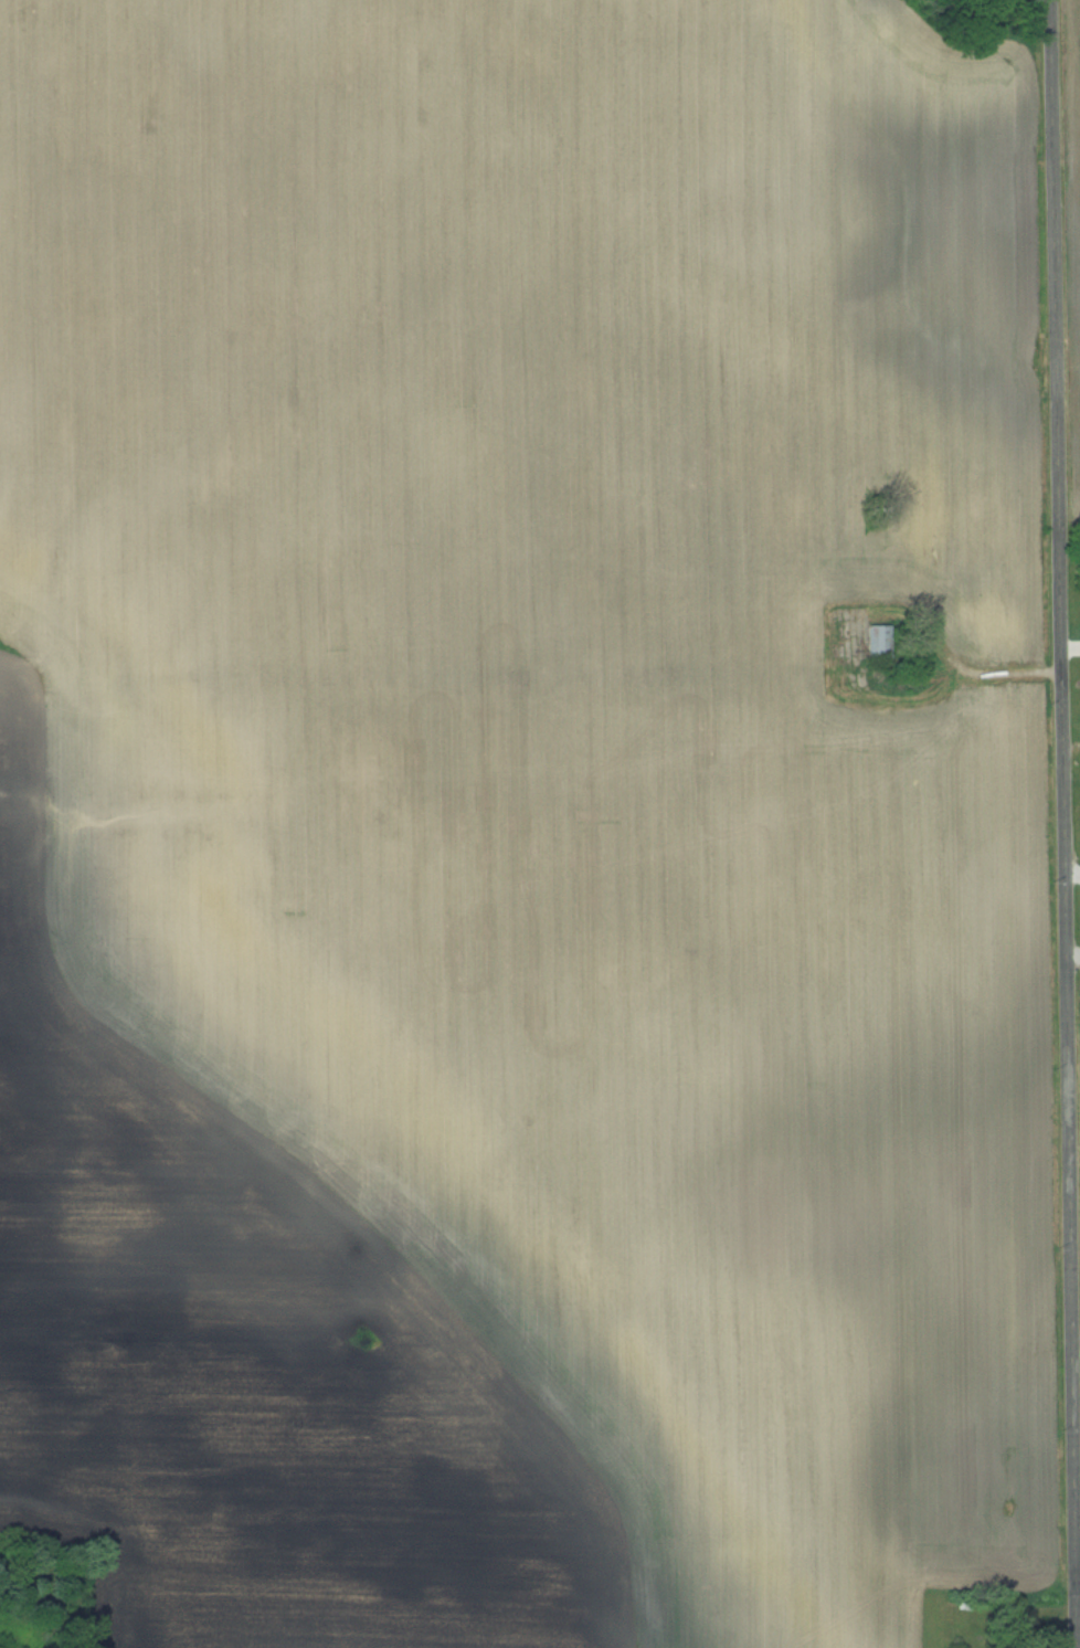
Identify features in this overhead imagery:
road: (1066, 823)

